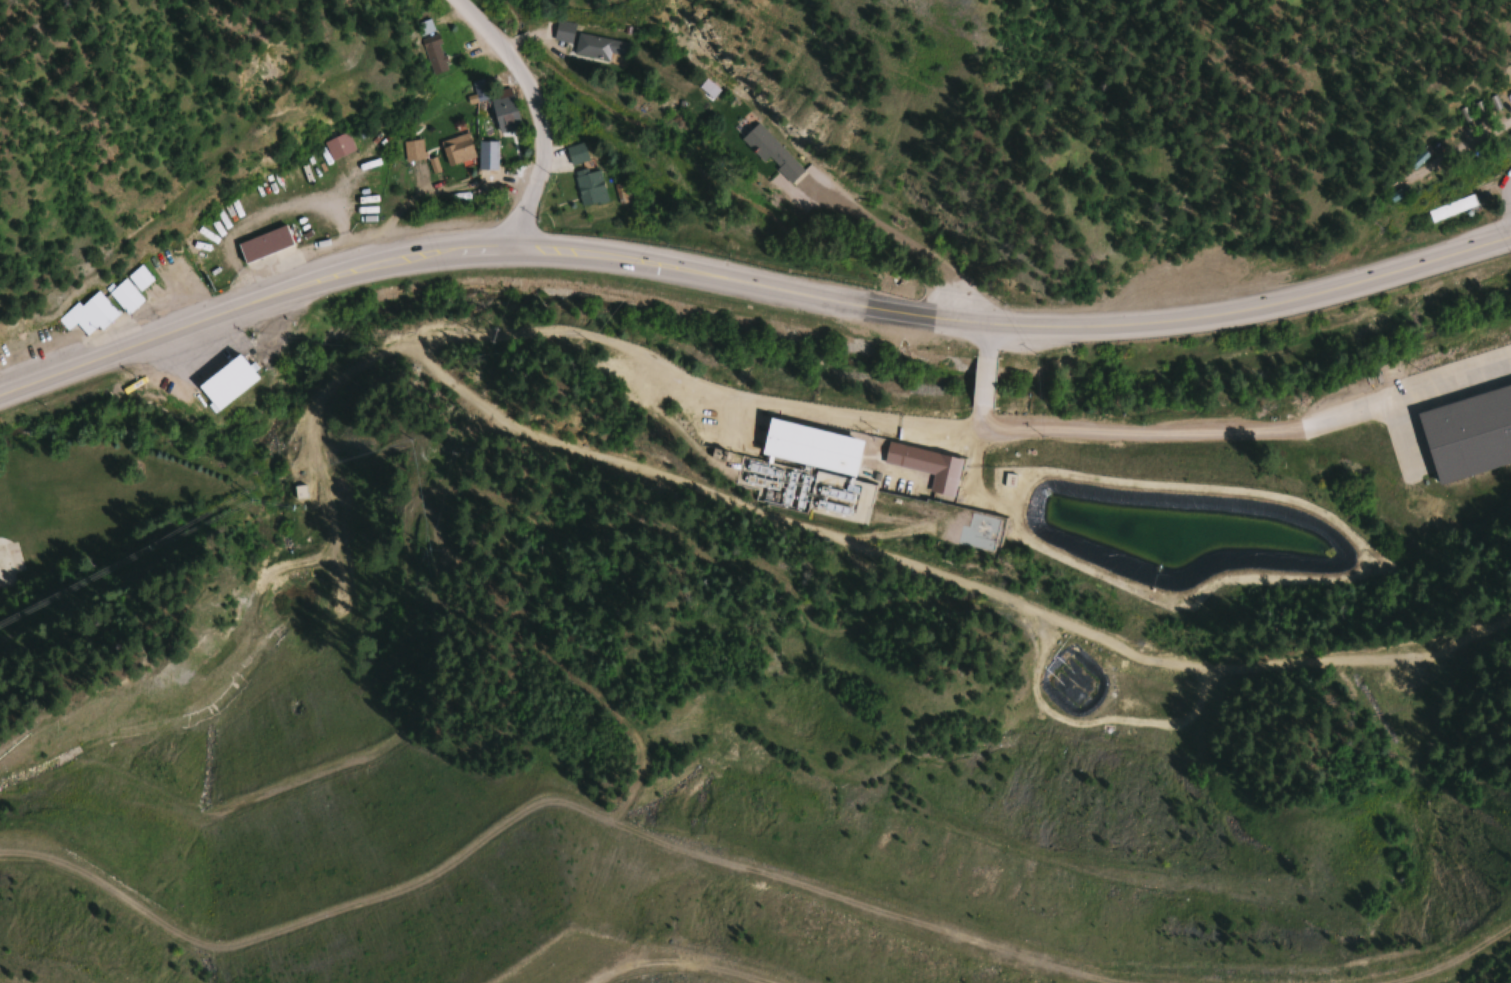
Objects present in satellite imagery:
building: (424, 27)
building: (563, 31)
building: (598, 47)
building: (433, 54)
building: (707, 88)
building: (475, 91)
building: (503, 110)
road: (537, 115)
building: (337, 145)
building: (456, 149)
building: (413, 150)
building: (770, 152)
building: (576, 153)
building: (589, 187)
building: (1397, 194)
building: (1452, 211)
building: (263, 244)
building: (138, 278)
road: (750, 290)
building: (124, 296)
building: (86, 315)
road: (985, 375)
building: (225, 383)
road: (886, 419)
building: (1467, 432)
building: (926, 466)
building: (822, 467)
road: (945, 575)

